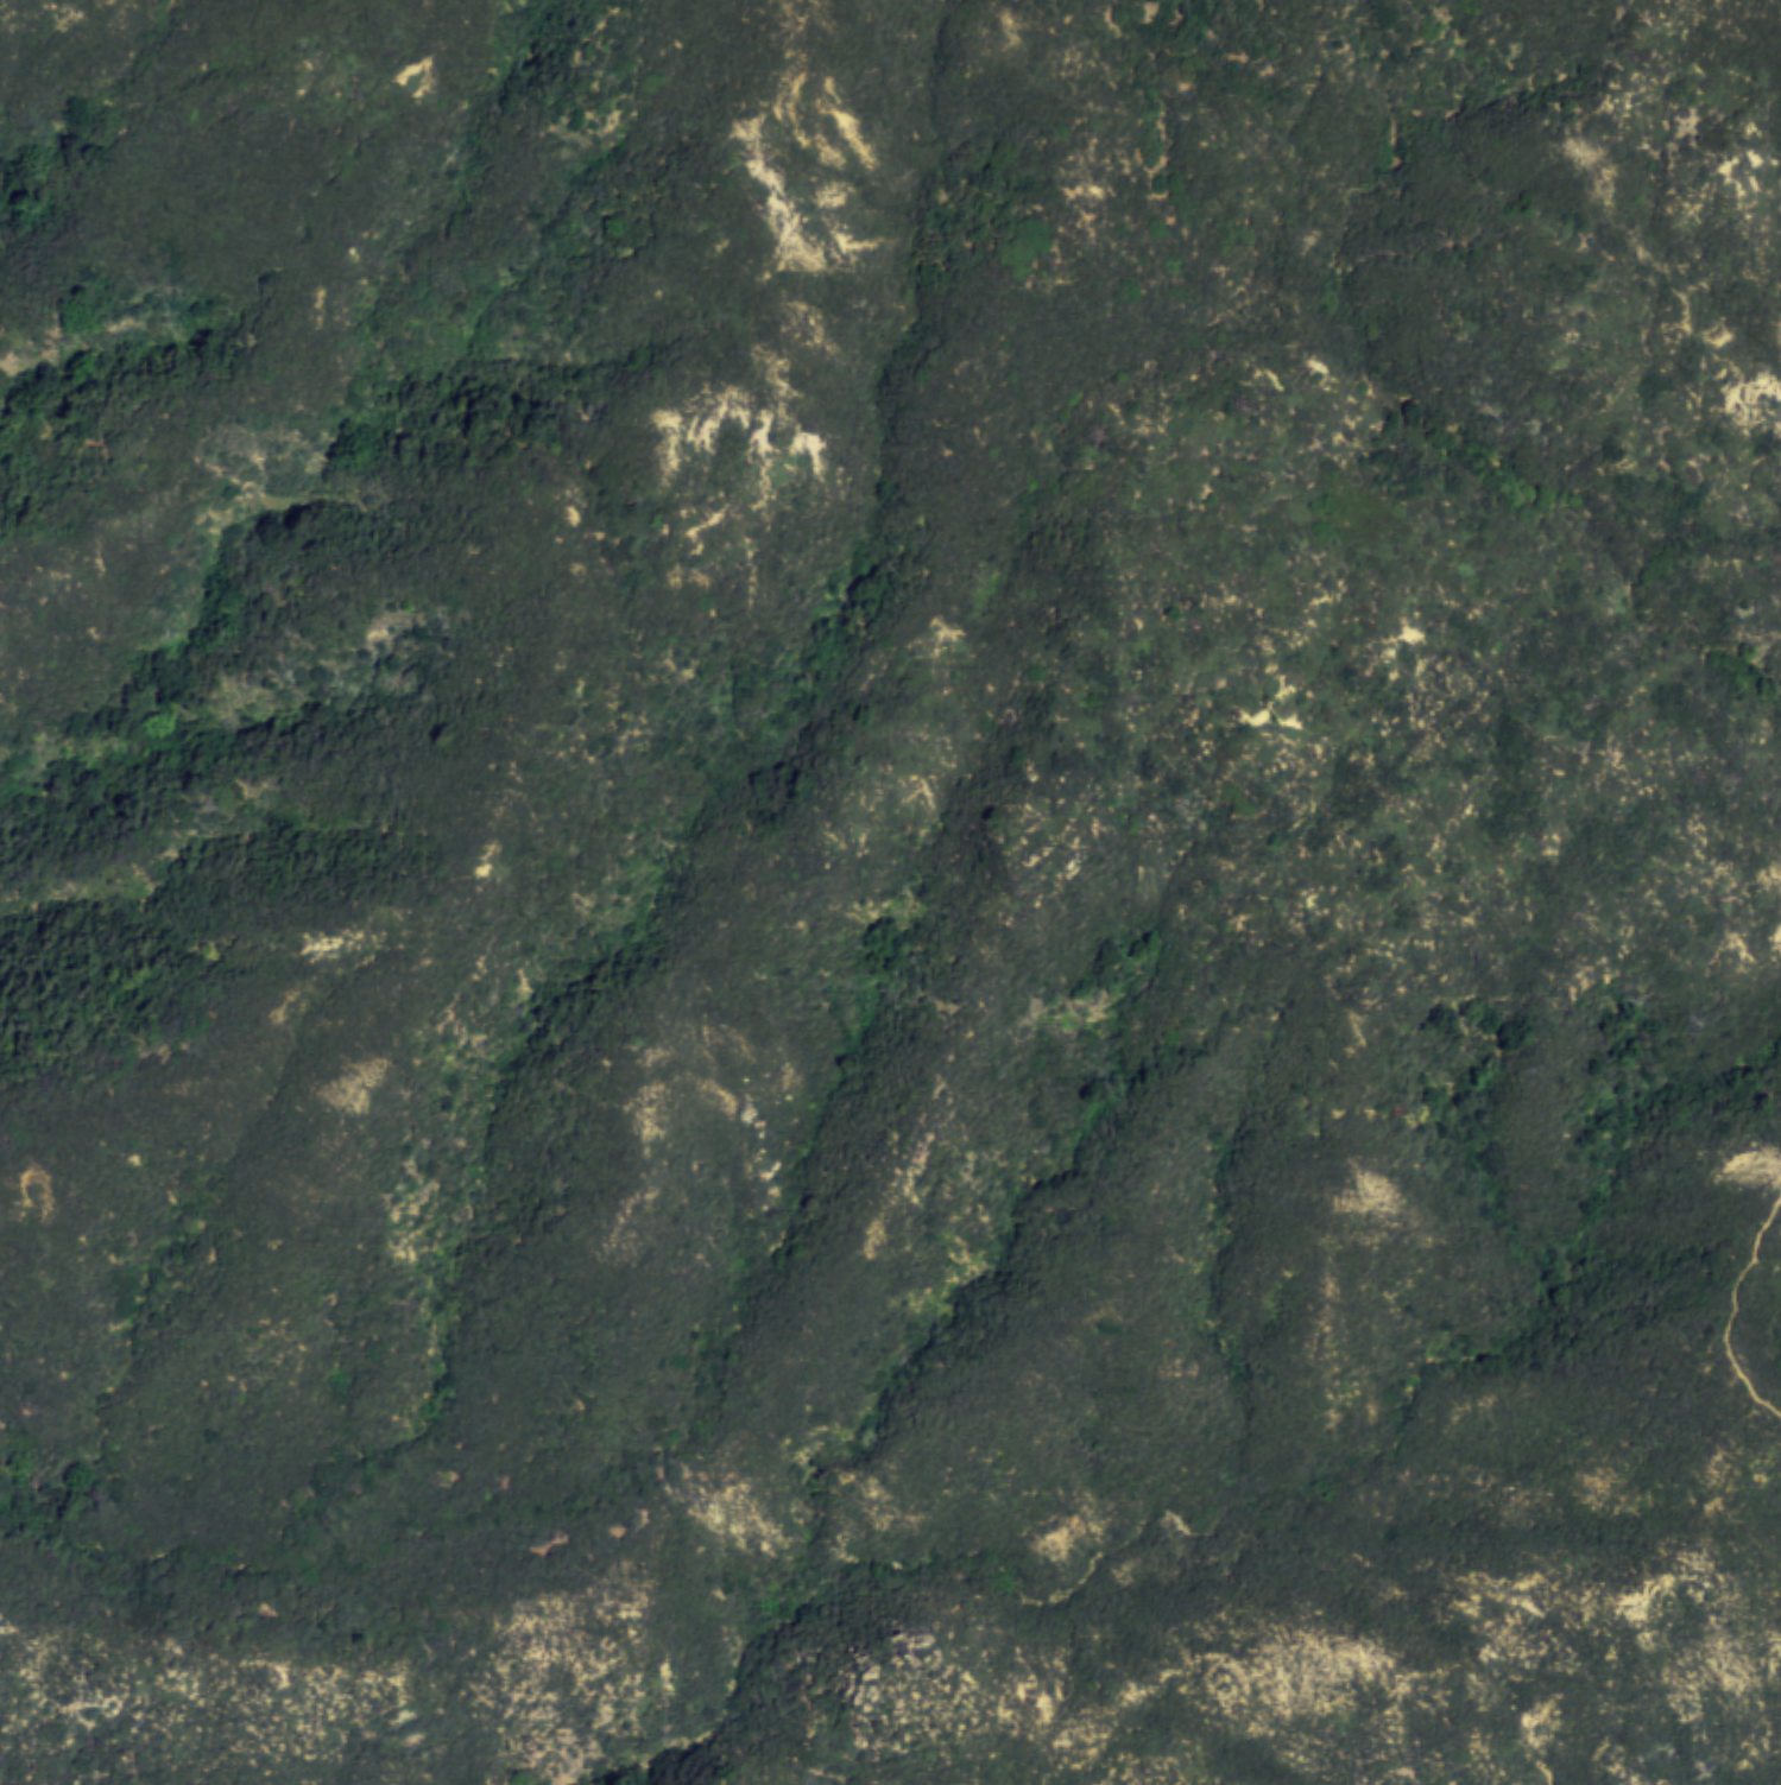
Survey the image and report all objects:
road: (1728, 1309)

